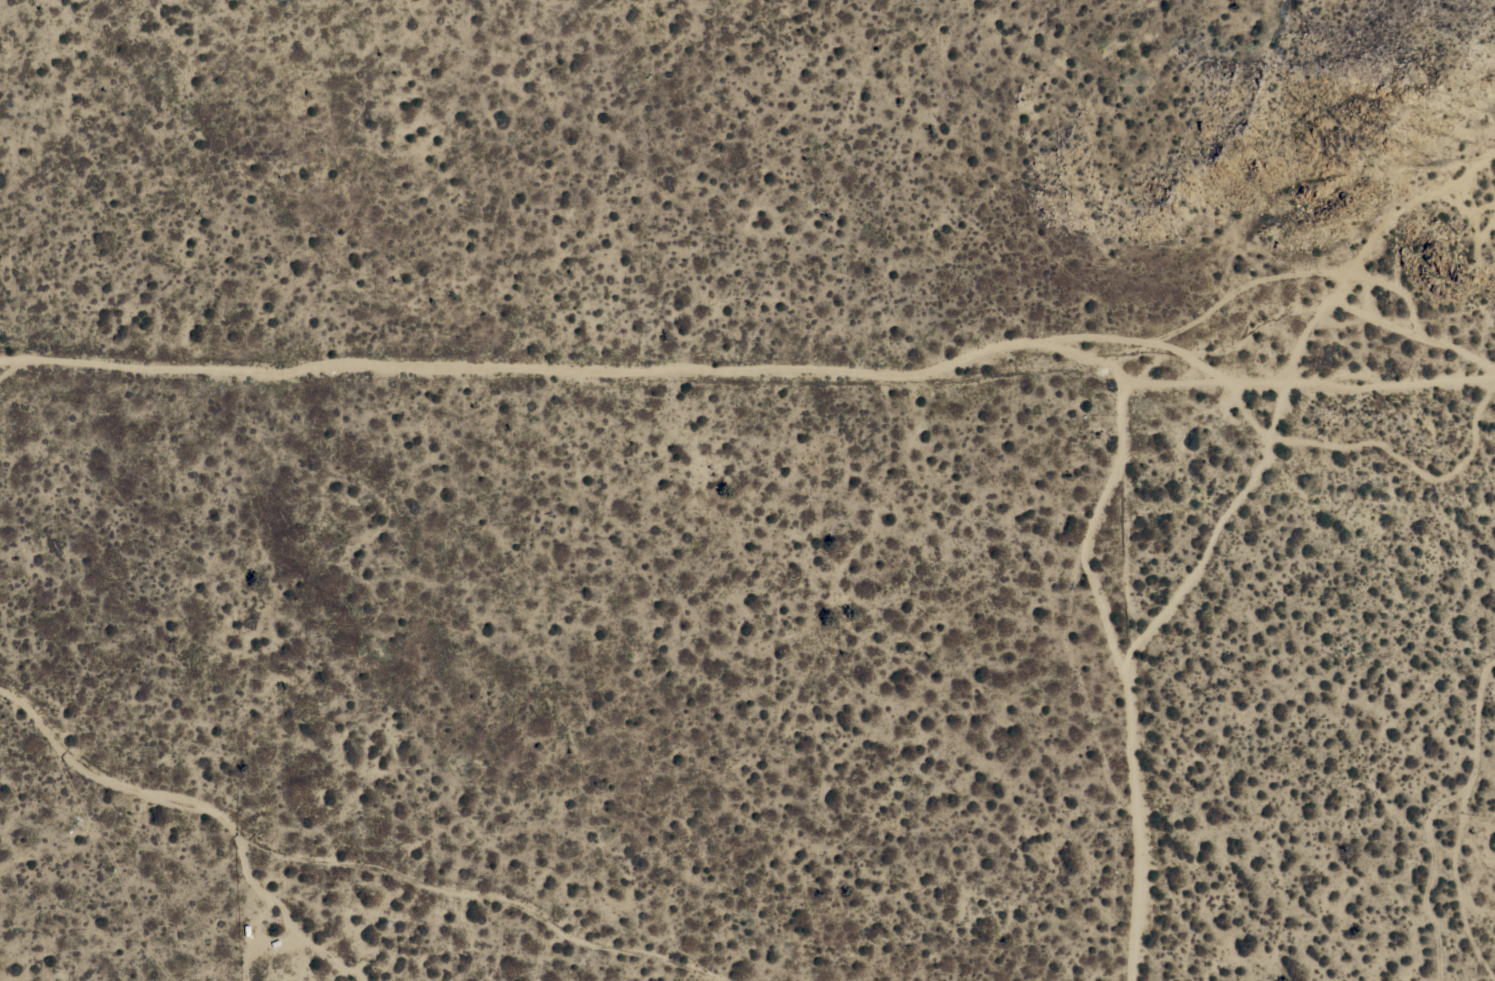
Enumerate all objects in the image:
road: (393, 362)
road: (1132, 381)
road: (1288, 390)
road: (1128, 676)
road: (353, 862)

